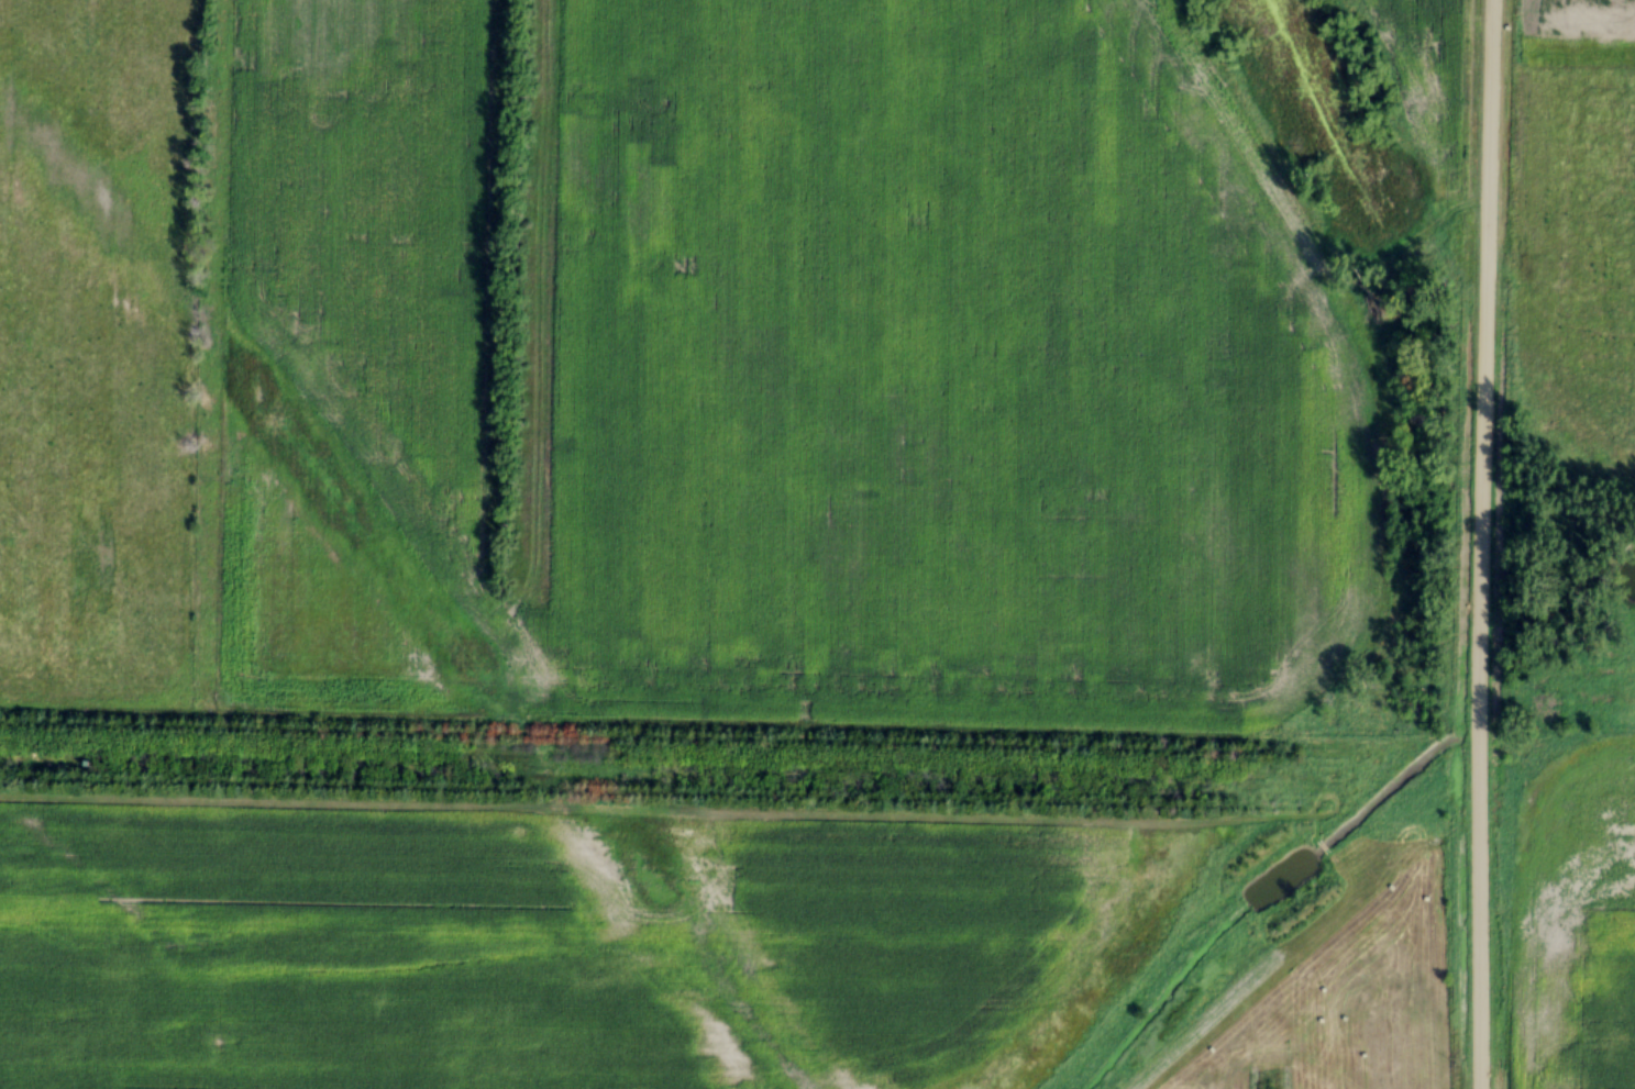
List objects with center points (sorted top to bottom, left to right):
road: (1477, 544)

